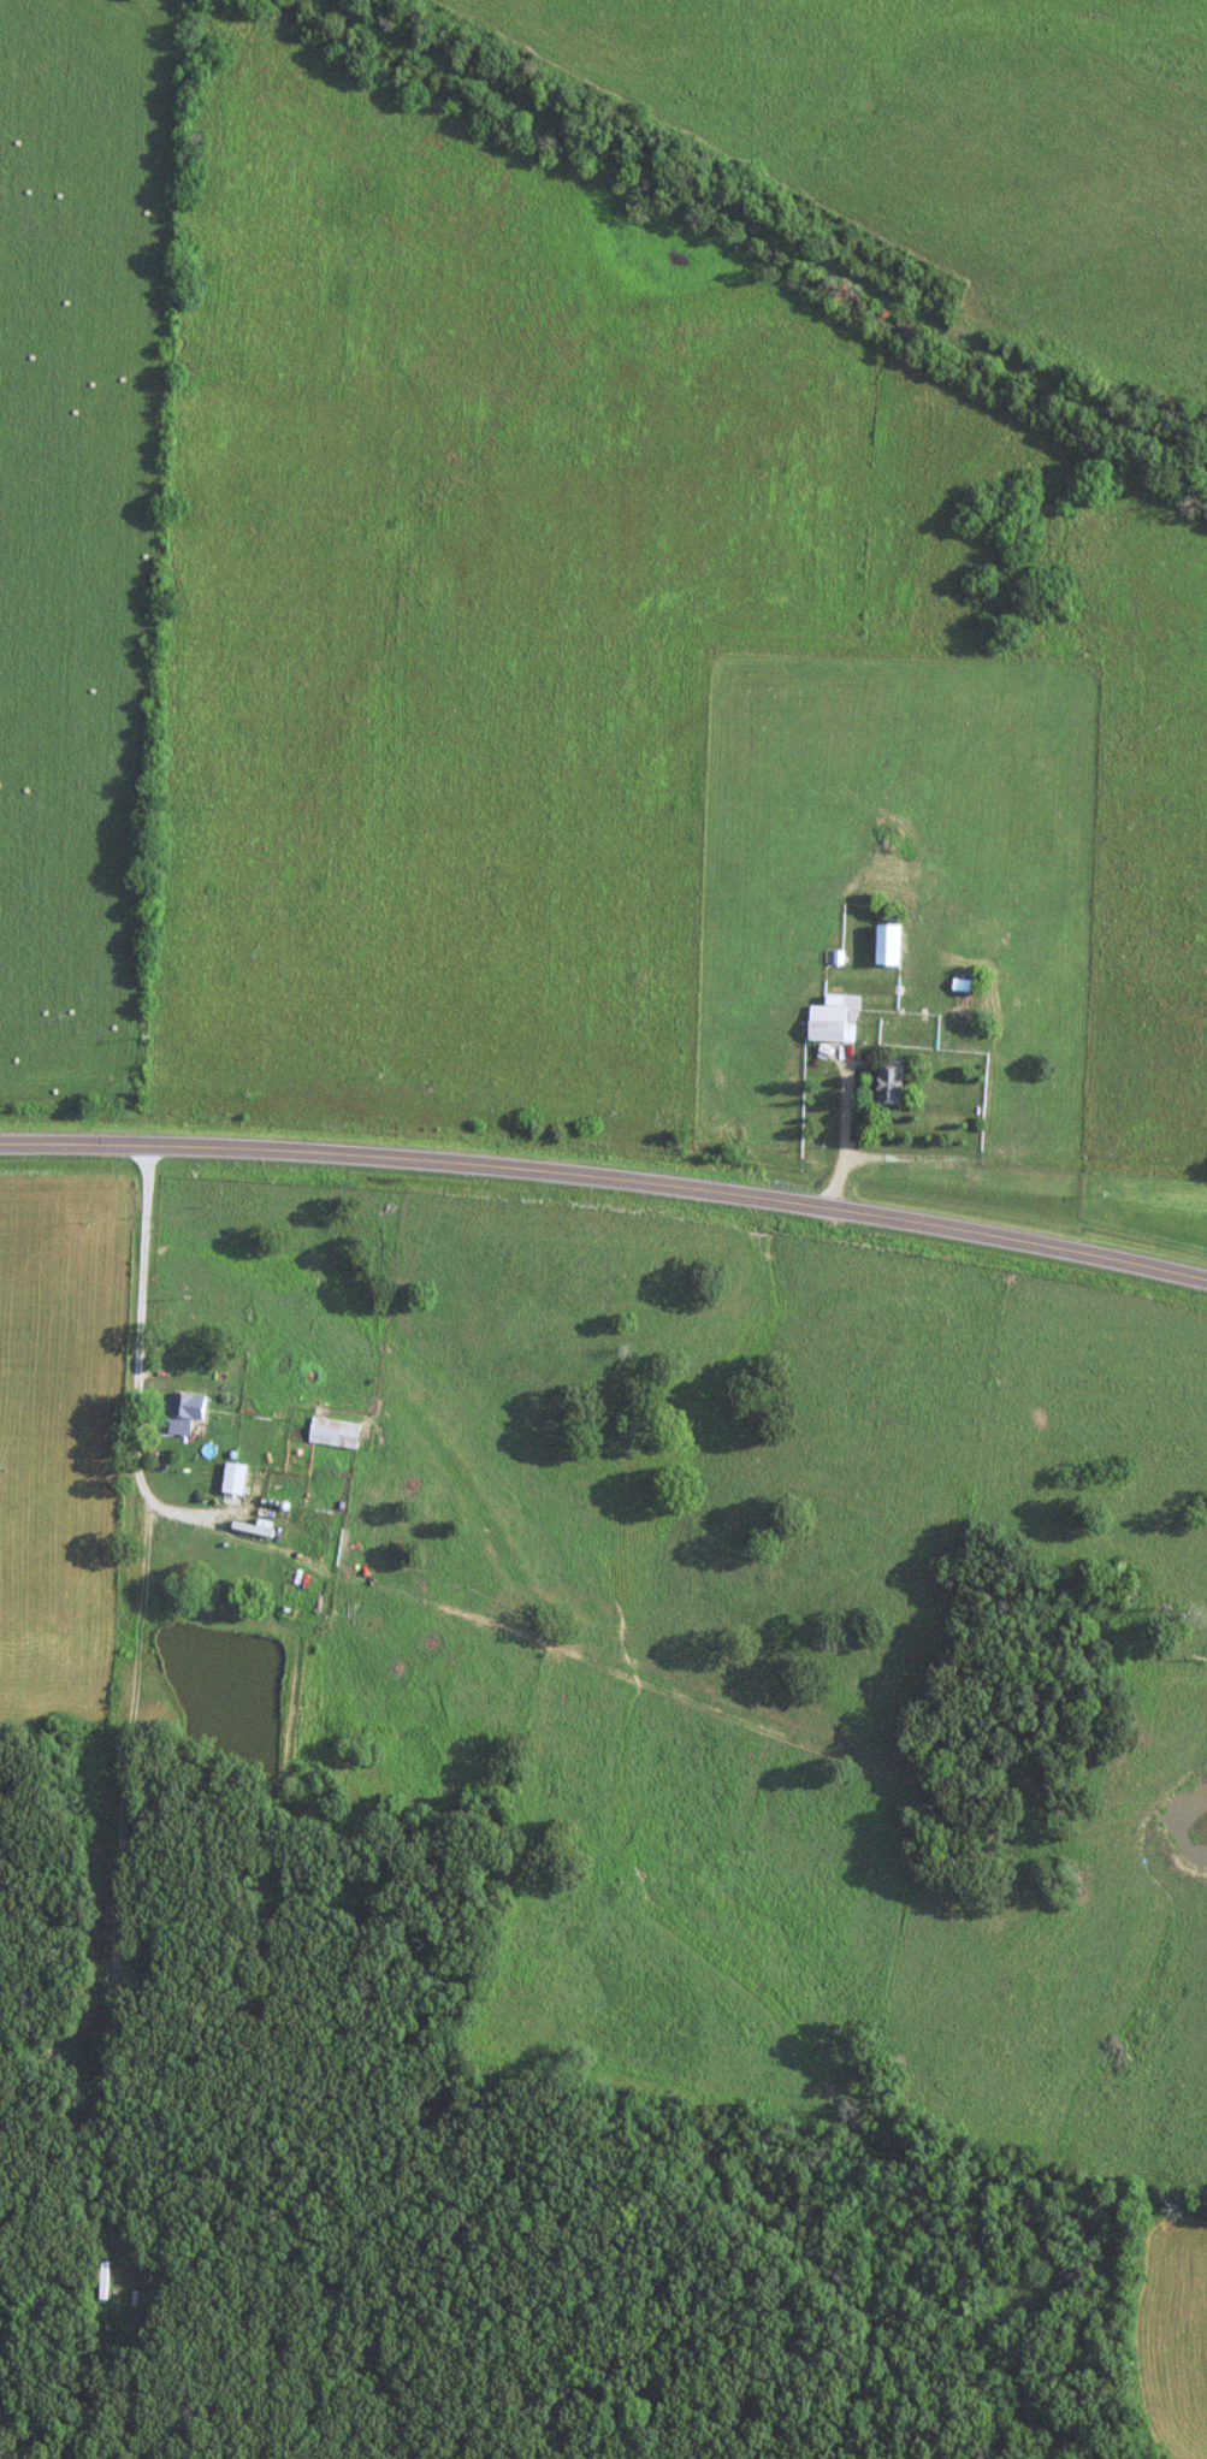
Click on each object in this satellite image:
building: (887, 944)
building: (951, 1010)
building: (827, 1022)
building: (889, 1082)
road: (607, 1175)
road: (138, 1358)
building: (183, 1411)
building: (333, 1431)
building: (232, 1477)

